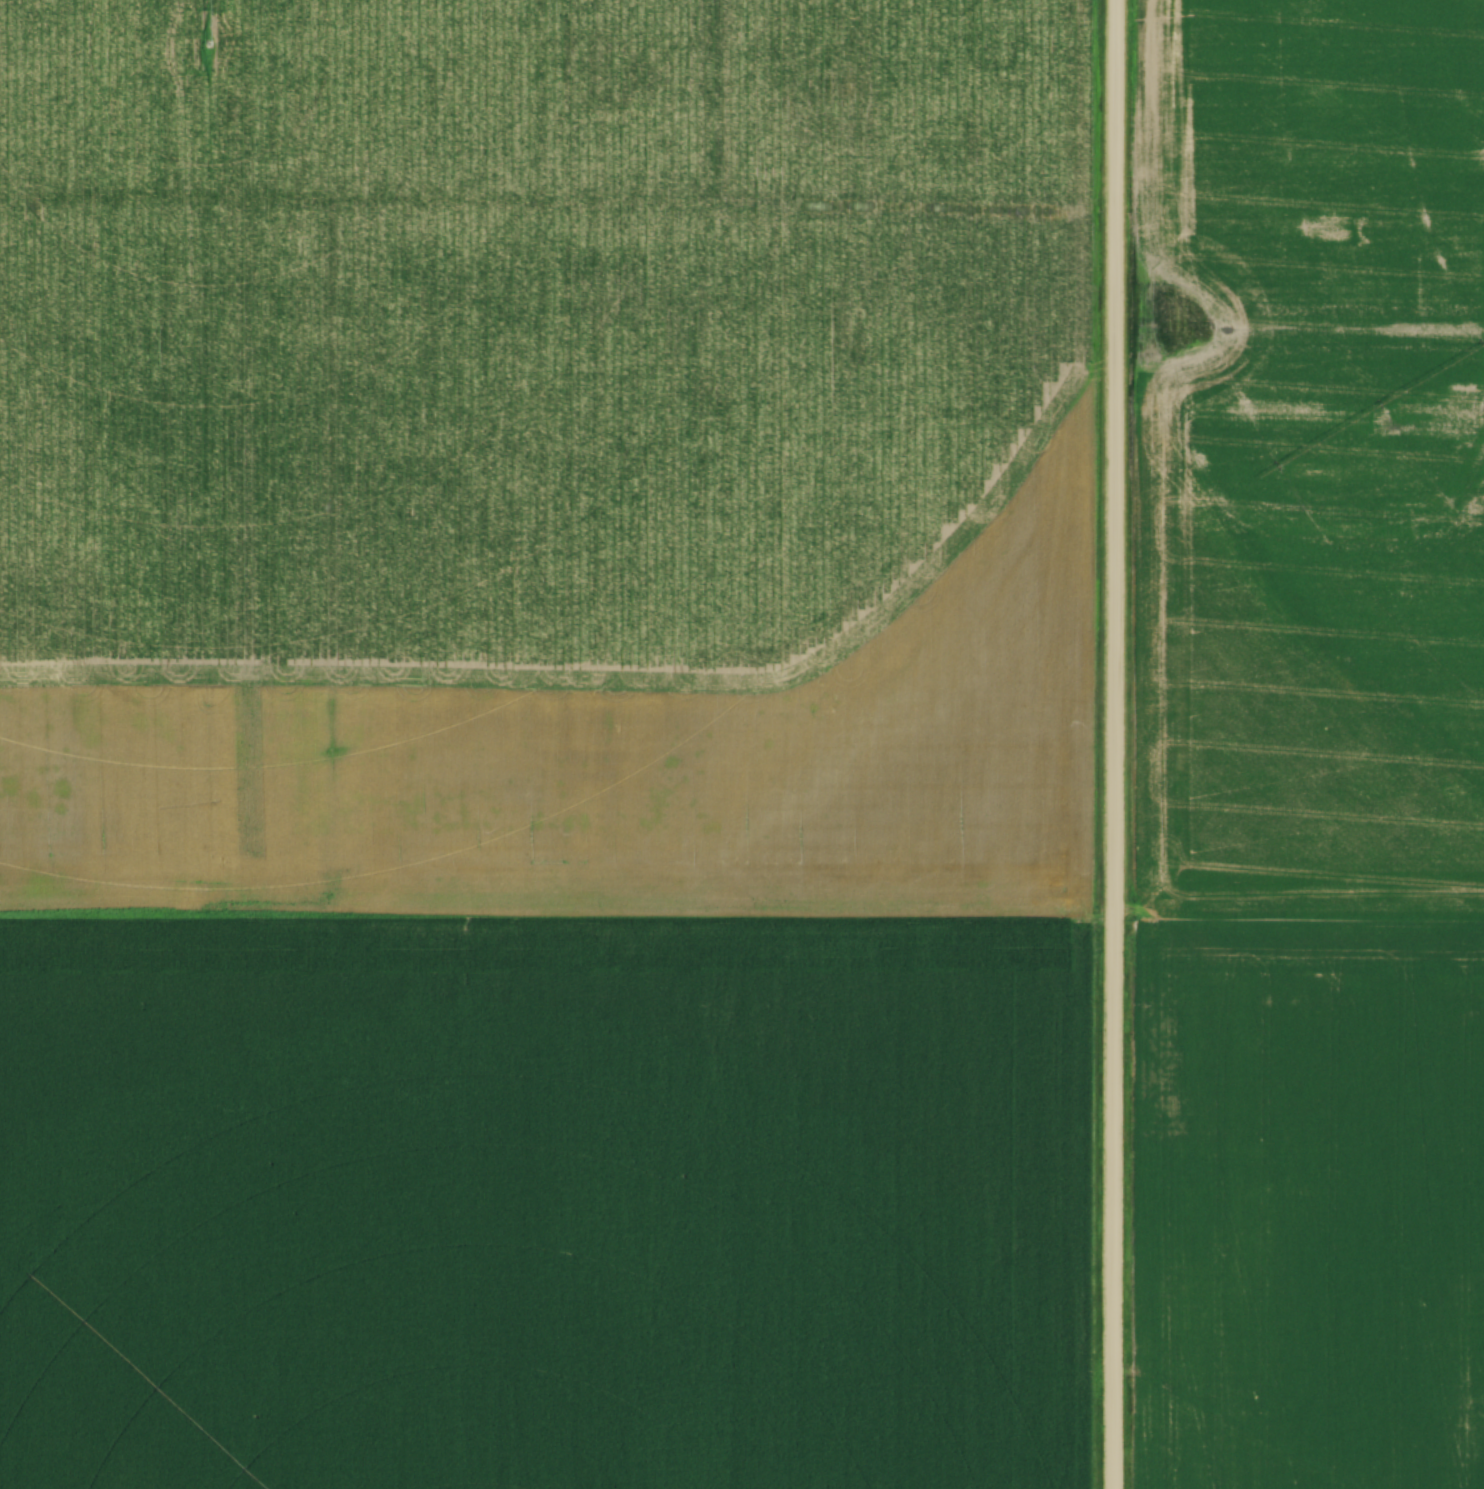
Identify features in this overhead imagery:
road: (1115, 744)

